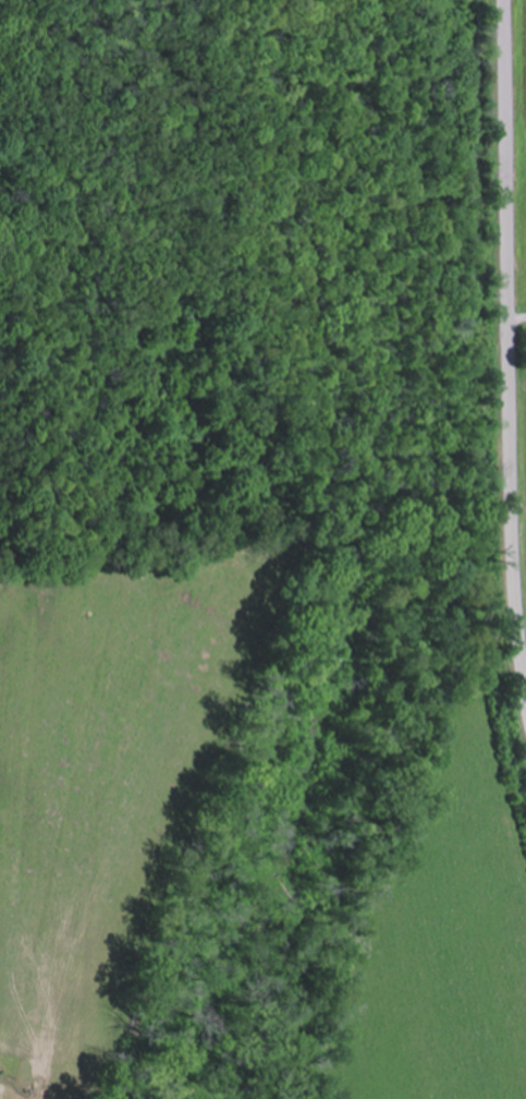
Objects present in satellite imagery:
road: (507, 340)

